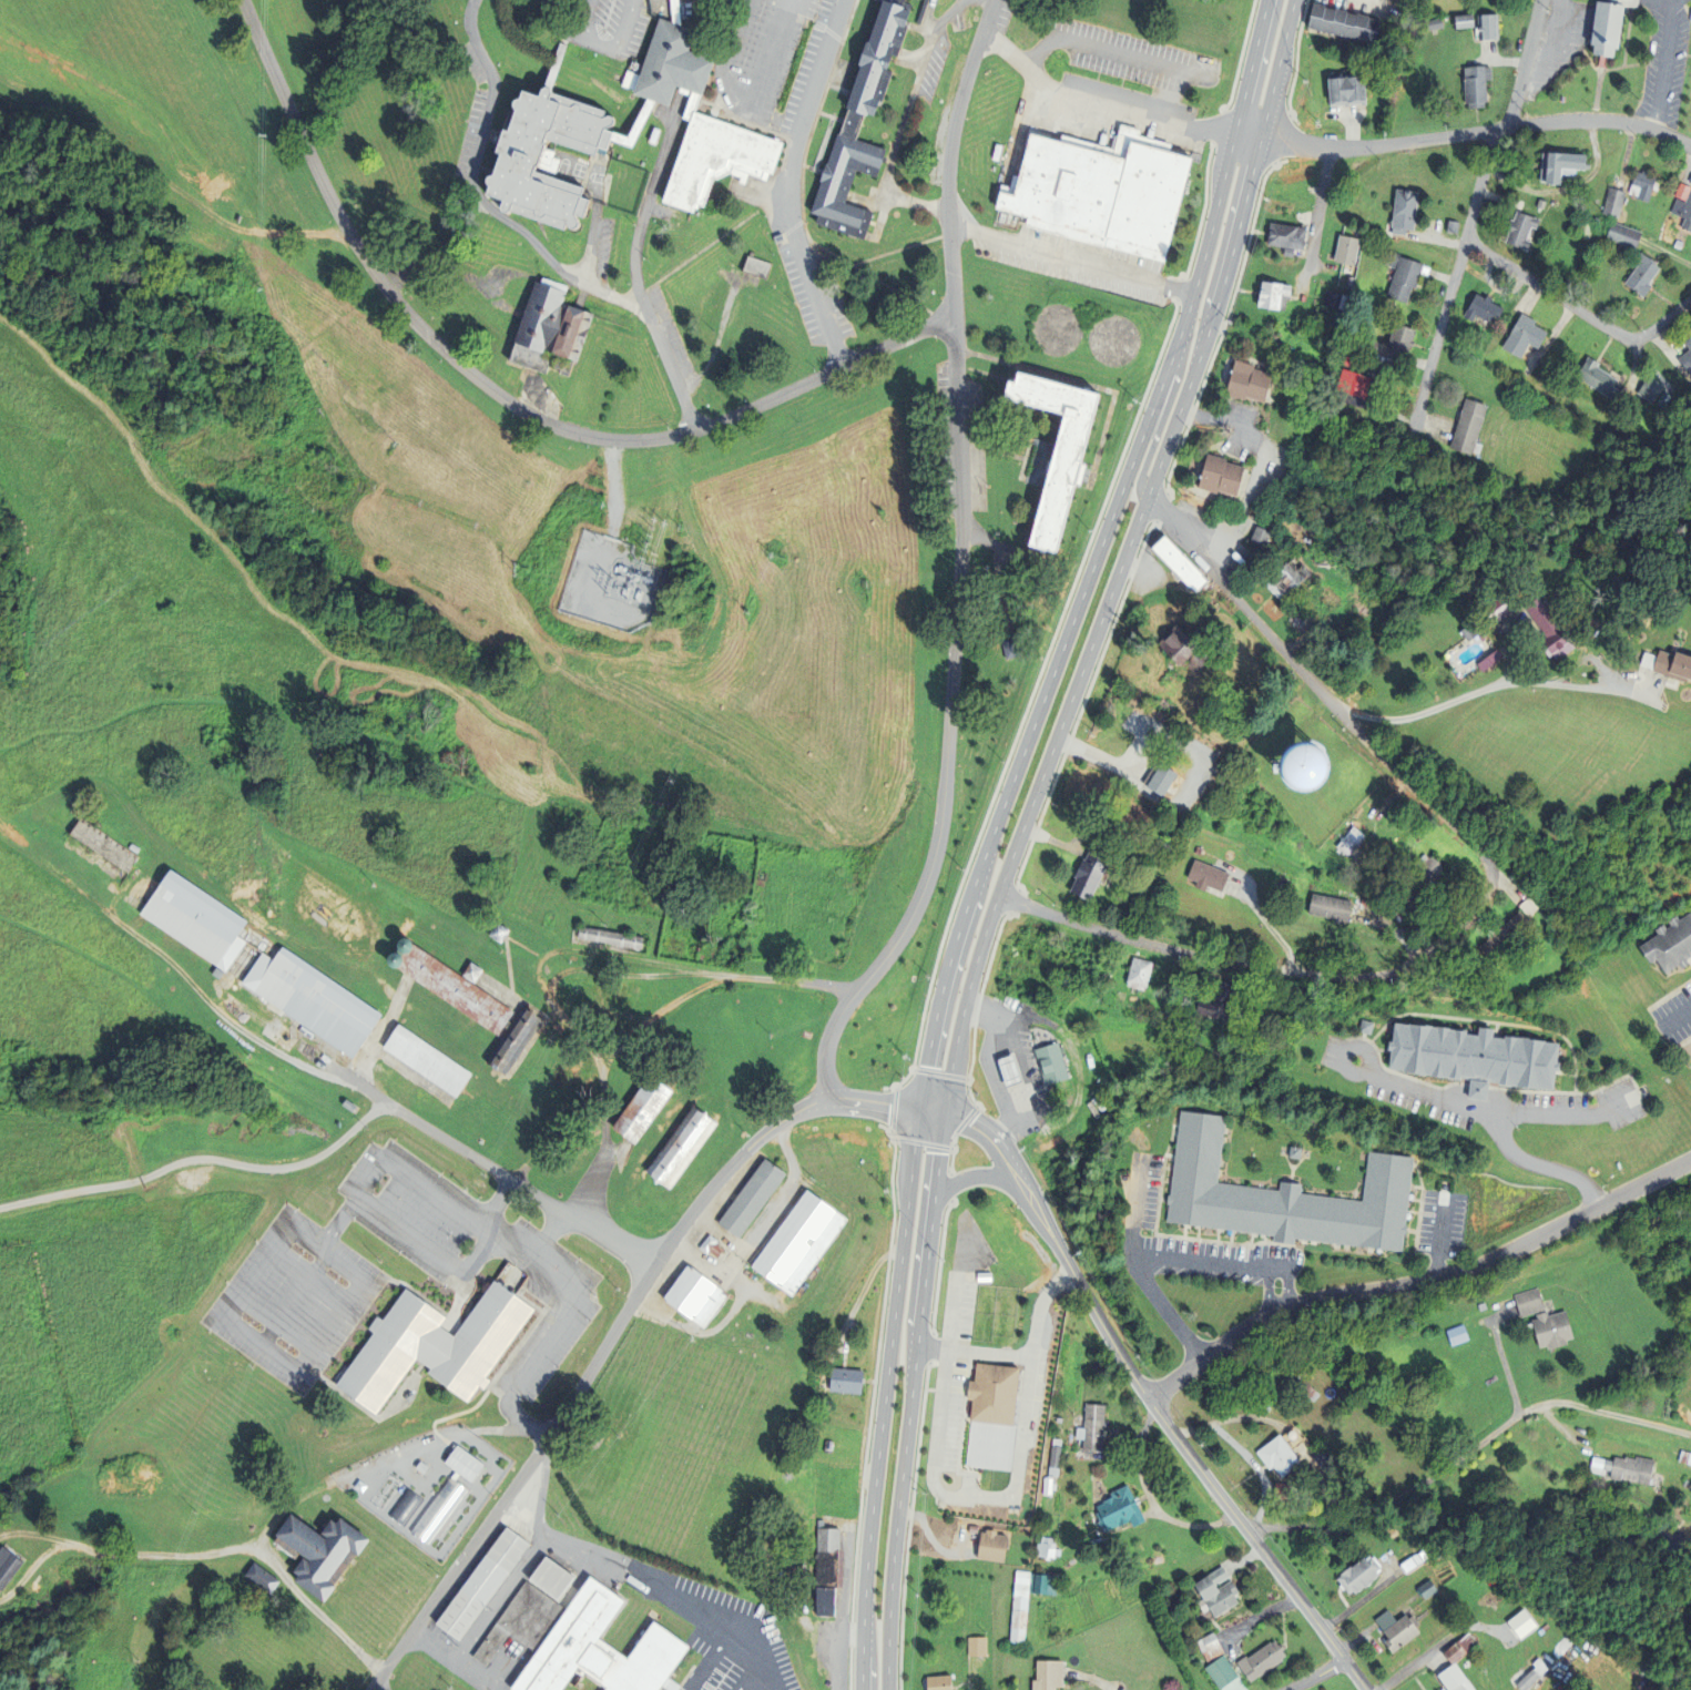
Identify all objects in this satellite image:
building: (1244, 0)
parking lot: (1637, 1)
parking lot: (1689, 2)
road: (1673, 4)
building: (678, 11)
parking lot: (1690, 20)
building: (1468, 22)
building: (1348, 23)
building: (1436, 24)
building: (1609, 27)
building: (1490, 28)
parking lot: (1545, 33)
parking lot: (1563, 41)
road: (1554, 44)
road: (1109, 51)
parking lot: (1640, 57)
road: (1665, 60)
road: (1525, 64)
building: (673, 69)
building: (1479, 85)
parking lot: (1685, 90)
building: (1351, 91)
road: (1098, 101)
road: (744, 102)
road: (904, 116)
parking lot: (1652, 121)
building: (855, 125)
building: (631, 129)
road: (1465, 133)
building: (655, 136)
road: (948, 154)
building: (721, 161)
building: (526, 162)
building: (1565, 164)
building: (1646, 183)
road: (166, 185)
road: (787, 185)
building: (1287, 186)
building: (1104, 189)
road: (476, 193)
road: (1322, 202)
building: (1616, 202)
building: (1407, 210)
building: (1684, 210)
building: (1455, 226)
building: (1524, 228)
building: (1587, 230)
building: (1290, 234)
building: (1626, 234)
building: (1679, 244)
building: (1349, 248)
road: (1232, 250)
road: (1070, 257)
building: (758, 267)
road: (1457, 273)
building: (1407, 274)
building: (1647, 274)
road: (633, 281)
building: (1276, 293)
building: (1338, 298)
building: (1487, 307)
road: (1578, 308)
building: (1343, 327)
building: (552, 332)
building: (1304, 333)
building: (1279, 335)
building: (1313, 335)
building: (1525, 335)
building: (1321, 337)
building: (1404, 337)
building: (1690, 342)
building: (1371, 346)
building: (1679, 354)
building: (1347, 358)
building: (1601, 377)
building: (1251, 380)
building: (1356, 381)
building: (1653, 388)
road: (503, 399)
road: (1168, 401)
road: (1215, 418)
building: (1471, 427)
building: (1060, 448)
crop: (1557, 458)
building: (1223, 475)
building: (1190, 502)
building: (1262, 536)
building: (1578, 550)
road: (1096, 557)
building: (1179, 562)
road: (289, 576)
building: (1291, 579)
power substation: (612, 583)
building: (1500, 608)
building: (1058, 621)
building: (1554, 629)
building: (1471, 632)
building: (1012, 645)
building: (1185, 649)
building: (1670, 663)
road: (1495, 685)
building: (1137, 721)
road: (948, 724)
road: (333, 727)
water tower: (1303, 766)
building: (1296, 768)
building: (1165, 780)
building: (1098, 790)
building: (1353, 839)
building: (100, 846)
building: (1200, 851)
building: (1429, 871)
building: (1389, 873)
building: (1092, 875)
building: (1210, 876)
road: (1486, 892)
building: (1410, 898)
building: (1334, 907)
building: (1530, 907)
building: (1398, 917)
building: (196, 919)
building: (1552, 919)
road: (1270, 926)
building: (1508, 930)
building: (500, 933)
building: (612, 938)
building: (1025, 939)
building: (1671, 943)
building: (406, 944)
building: (706, 954)
building: (396, 960)
building: (473, 973)
building: (1142, 974)
building: (314, 1000)
building: (1171, 1001)
building: (1222, 1001)
building: (476, 1006)
parking lot: (1674, 1016)
road: (1678, 1018)
road: (182, 1021)
building: (1364, 1026)
building: (1475, 1058)
building: (429, 1061)
road: (1371, 1061)
building: (1055, 1063)
building: (1006, 1071)
building: (1015, 1071)
road: (950, 1077)
building: (562, 1078)
parking lot: (1394, 1082)
building: (880, 1106)
building: (645, 1109)
traffic signals: (919, 1112)
road: (1498, 1112)
traffic signals: (945, 1116)
building: (683, 1148)
building: (1297, 1150)
road: (473, 1155)
road: (201, 1159)
road: (1541, 1165)
road: (975, 1175)
parking lot: (381, 1184)
parking lot: (381, 1184)
parking lot: (381, 1184)
parking lot: (381, 1184)
parking lot: (1142, 1192)
building: (1286, 1194)
building: (754, 1197)
road: (497, 1202)
road: (350, 1204)
parking lot: (520, 1211)
building: (1002, 1226)
parking lot: (1145, 1231)
road: (548, 1235)
road: (1437, 1236)
building: (802, 1241)
building: (712, 1245)
parking lot: (467, 1246)
parking lot: (467, 1246)
parking lot: (467, 1246)
parking lot: (467, 1246)
road: (430, 1249)
parking lot: (467, 1249)
parking lot: (302, 1252)
parking lot: (302, 1252)
parking lot: (302, 1252)
parking lot: (302, 1252)
parking lot: (572, 1259)
road: (1209, 1262)
parking lot: (347, 1263)
parking lot: (1255, 1264)
road: (1135, 1266)
building: (986, 1275)
parking lot: (338, 1277)
parking lot: (338, 1277)
parking lot: (338, 1277)
parking lot: (338, 1277)
road: (1418, 1281)
parking lot: (1277, 1285)
parking lot: (1277, 1285)
road: (1287, 1289)
road: (1269, 1292)
building: (697, 1294)
parking lot: (410, 1296)
parking lot: (592, 1297)
road: (295, 1299)
building: (1530, 1301)
parking lot: (532, 1309)
parking lot: (597, 1309)
parking lot: (253, 1322)
parking lot: (253, 1322)
parking lot: (253, 1322)
parking lot: (253, 1322)
building: (1555, 1328)
building: (985, 1331)
road: (609, 1338)
building: (435, 1345)
parking lot: (287, 1346)
parking lot: (287, 1346)
parking lot: (287, 1346)
parking lot: (287, 1346)
building: (848, 1381)
parking lot: (550, 1384)
building: (1305, 1385)
parking lot: (519, 1388)
road: (1142, 1391)
building: (409, 1395)
building: (1255, 1397)
building: (970, 1398)
road: (884, 1401)
building: (1265, 1406)
building: (920, 1413)
building: (996, 1414)
road: (1633, 1417)
building: (1094, 1427)
road: (528, 1429)
building: (829, 1446)
building: (1283, 1455)
building: (1316, 1455)
building: (1058, 1456)
building: (1685, 1456)
building: (1326, 1459)
building: (1628, 1468)
building: (149, 1469)
building: (1050, 1485)
road: (1420, 1485)
road: (1011, 1498)
road: (284, 1508)
building: (1122, 1509)
building: (907, 1531)
road: (33, 1534)
building: (995, 1545)
building: (1046, 1547)
building: (325, 1550)
building: (1412, 1562)
building: (8, 1565)
road: (35, 1566)
road: (648, 1569)
building: (829, 1569)
building: (1363, 1574)
building: (263, 1577)
building: (553, 1577)
building: (1025, 1577)
building: (483, 1582)
building: (1046, 1582)
building: (1429, 1588)
building: (1023, 1589)
building: (1221, 1590)
crop: (1094, 1600)
building: (1022, 1602)
road: (317, 1610)
building: (981, 1611)
building: (981, 1625)
building: (1020, 1627)
building: (1400, 1628)
building: (1152, 1633)
building: (582, 1641)
building: (979, 1646)
building: (1212, 1647)
building: (1461, 1648)
building: (1264, 1660)
road: (716, 1663)
building: (431, 1666)
building: (1224, 1671)
building: (1051, 1674)
building: (1535, 1674)
road: (1317, 1676)
building: (1457, 1679)
building: (943, 1682)
building: (464, 1683)
road: (757, 1684)
road: (744, 1686)
road: (378, 1688)

